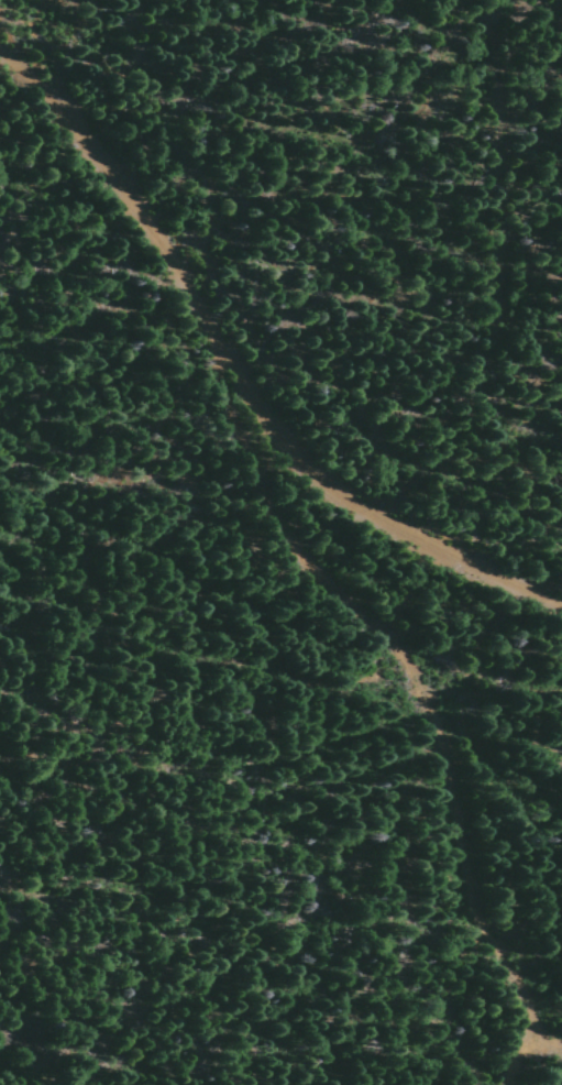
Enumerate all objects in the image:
road: (106, 167)
road: (233, 368)

